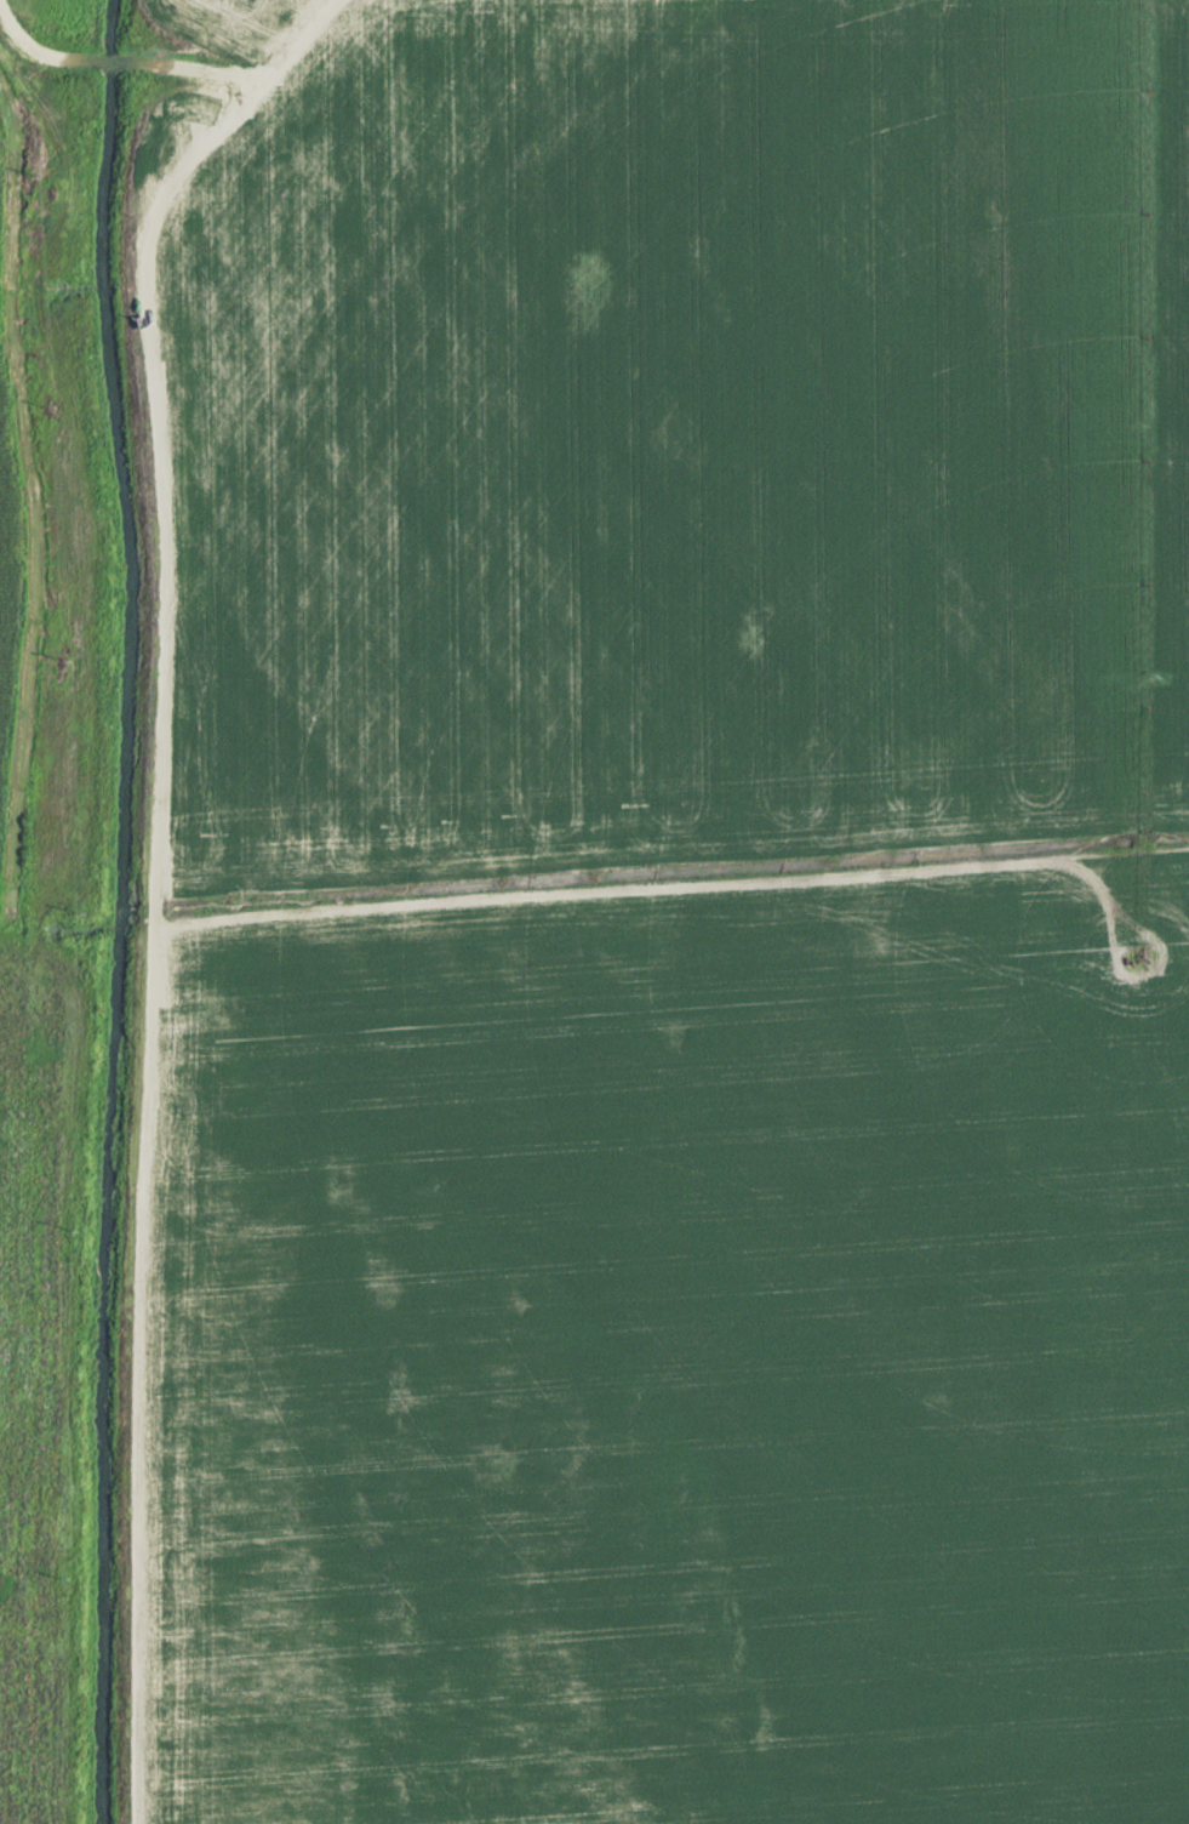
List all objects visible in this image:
road: (276, 36)
road: (102, 56)
road: (152, 931)

